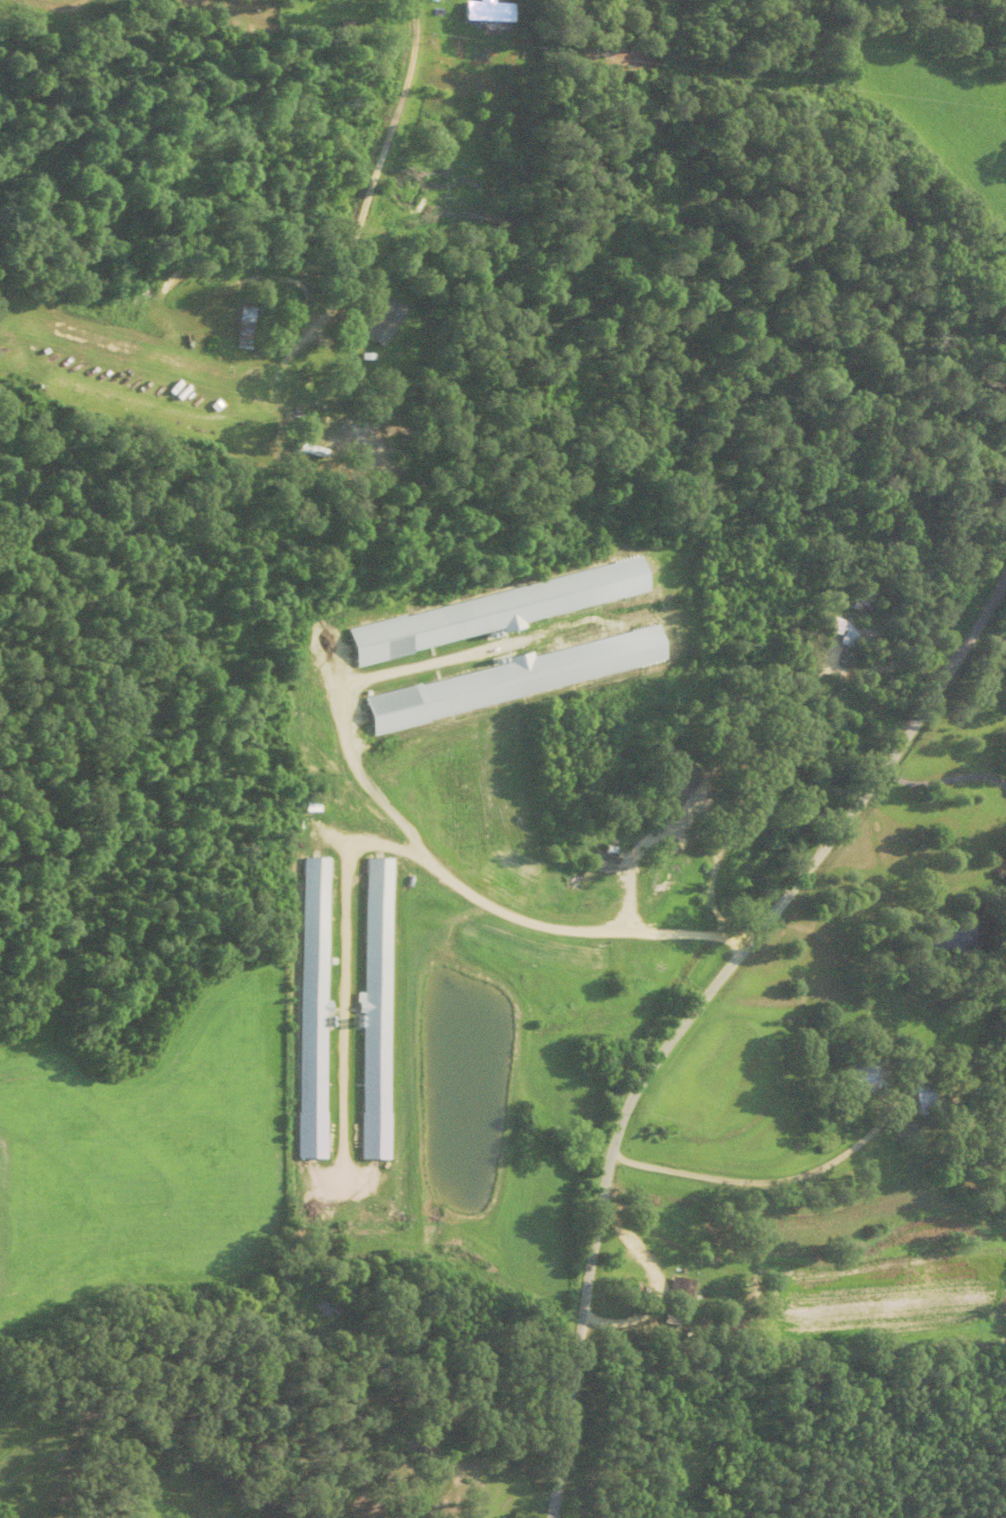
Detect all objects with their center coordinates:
building: (560, 7)
building: (477, 12)
road: (929, 12)
building: (376, 321)
building: (243, 324)
building: (359, 454)
building: (839, 626)
building: (671, 783)
building: (596, 862)
building: (1000, 869)
road: (693, 1006)
building: (309, 1008)
building: (371, 1010)
building: (854, 1078)
building: (917, 1099)
road: (757, 1181)
building: (673, 1293)
road: (8, 1500)

